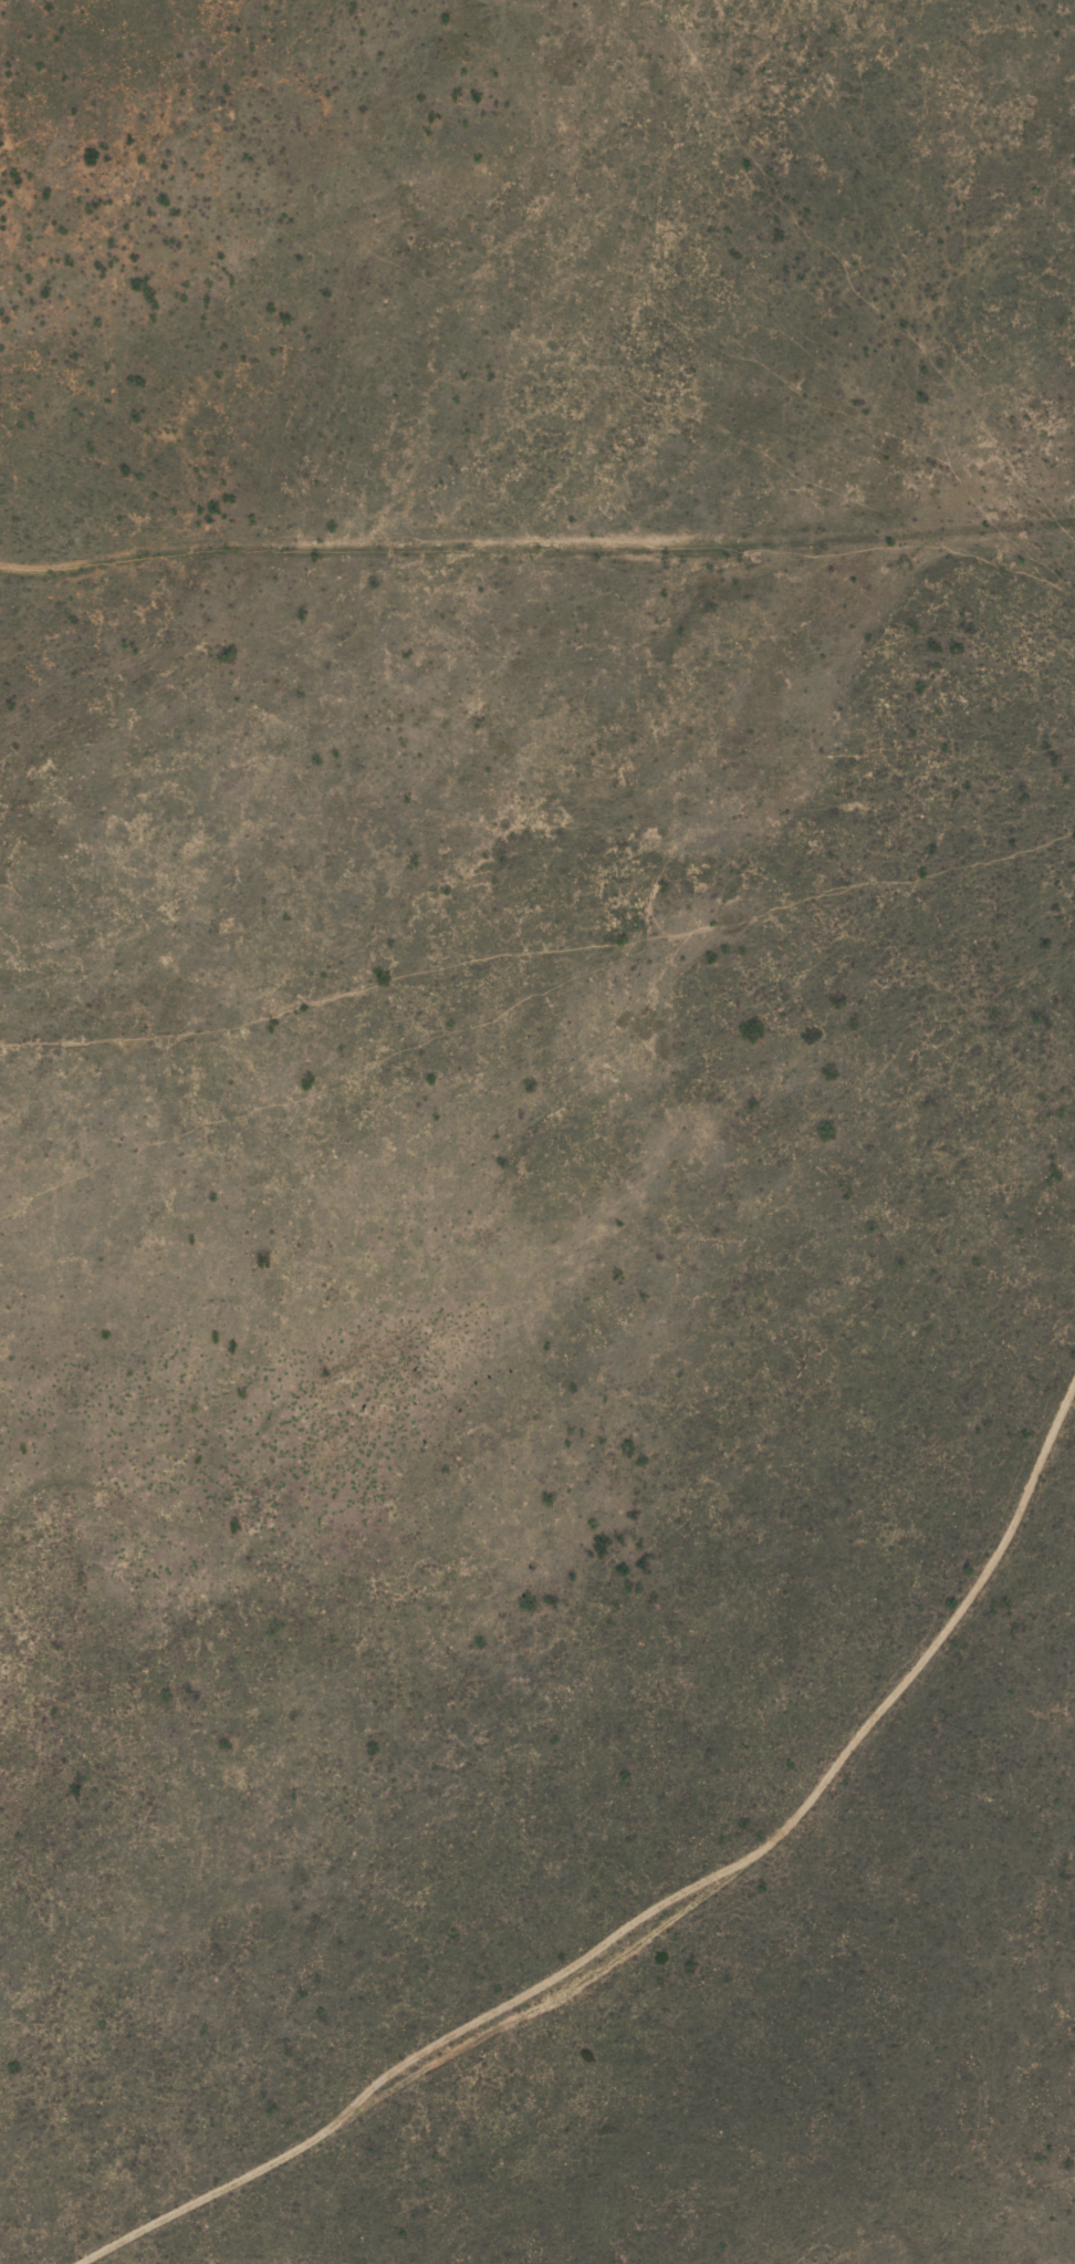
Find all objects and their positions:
road: (537, 571)

